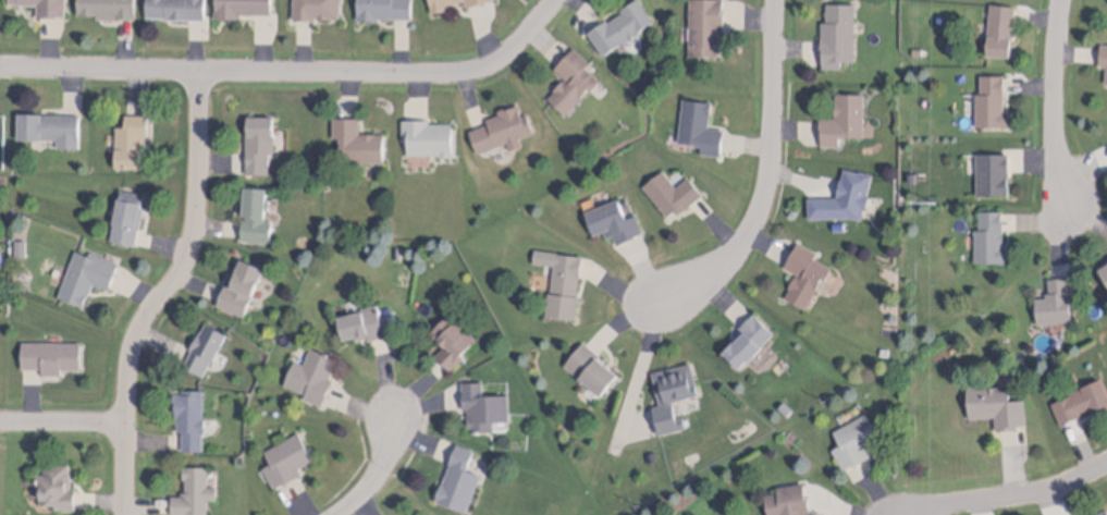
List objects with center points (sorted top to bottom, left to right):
building: (460, 7)
building: (44, 9)
building: (109, 11)
building: (243, 11)
building: (177, 12)
building: (318, 12)
building: (385, 13)
building: (622, 24)
building: (708, 25)
building: (1001, 26)
building: (839, 33)
building: (918, 51)
building: (1104, 53)
road: (293, 72)
building: (574, 78)
building: (993, 100)
road: (1054, 105)
building: (845, 117)
building: (701, 124)
building: (51, 125)
building: (504, 126)
building: (429, 134)
building: (132, 138)
building: (358, 138)
building: (260, 140)
building: (994, 171)
road: (768, 173)
building: (913, 174)
building: (673, 191)
building: (845, 195)
power tower: (932, 209)
building: (257, 211)
building: (130, 216)
building: (615, 218)
building: (840, 224)
building: (992, 236)
building: (1104, 266)
building: (807, 272)
building: (88, 273)
building: (1103, 273)
building: (564, 279)
building: (243, 283)
road: (165, 294)
building: (1056, 301)
building: (367, 321)
building: (454, 338)
building: (749, 338)
building: (207, 346)
building: (886, 351)
building: (53, 354)
building: (593, 365)
building: (313, 373)
building: (675, 392)
building: (1082, 398)
building: (485, 404)
building: (997, 404)
building: (192, 416)
road: (62, 425)
building: (857, 439)
building: (287, 458)
road: (379, 474)
building: (460, 479)
building: (58, 486)
building: (195, 491)
road: (1018, 496)
building: (790, 499)
building: (1100, 512)
building: (419, 514)

